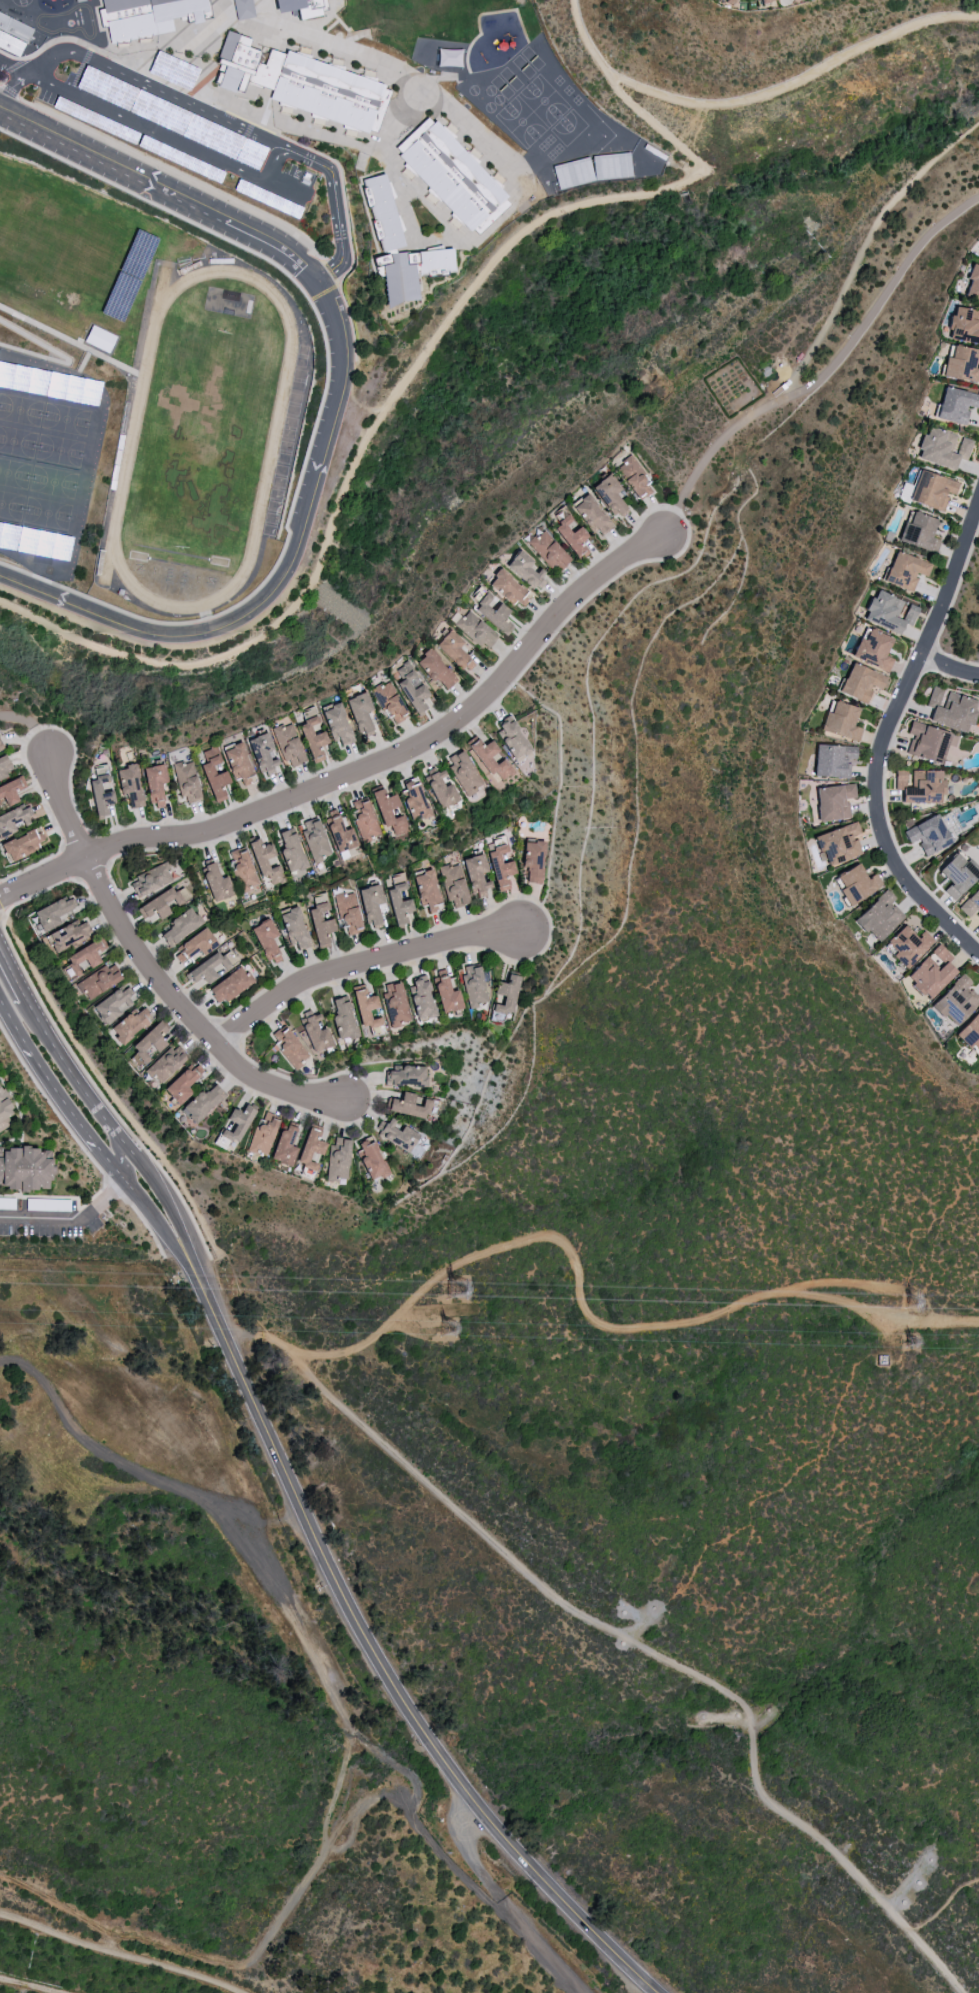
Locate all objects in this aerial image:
building: (730, 1)
building: (765, 1)
building: (302, 7)
building: (243, 9)
road: (260, 10)
building: (148, 16)
road: (322, 19)
road: (230, 21)
building: (15, 28)
road: (354, 34)
building: (10, 44)
road: (344, 47)
road: (192, 58)
road: (161, 59)
road: (15, 63)
road: (13, 66)
road: (798, 76)
road: (436, 77)
road: (3, 79)
building: (303, 83)
road: (10, 92)
park: (543, 100)
road: (212, 115)
park: (521, 121)
park: (567, 127)
road: (164, 129)
road: (270, 131)
parking lot: (182, 137)
road: (350, 143)
road: (571, 150)
road: (649, 154)
road: (681, 168)
building: (572, 173)
road: (174, 174)
building: (451, 175)
road: (283, 186)
road: (976, 196)
building: (382, 212)
road: (499, 219)
road: (864, 245)
building: (410, 272)
road: (330, 273)
road: (451, 275)
building: (973, 283)
road: (322, 292)
building: (964, 325)
building: (99, 338)
road: (71, 341)
road: (66, 358)
road: (833, 361)
road: (38, 363)
building: (961, 364)
road: (411, 367)
road: (350, 393)
road: (339, 404)
building: (956, 405)
road: (361, 408)
park: (20, 409)
road: (318, 410)
road: (738, 413)
park: (65, 419)
park: (203, 428)
track: (201, 440)
park: (17, 442)
building: (941, 449)
park: (59, 450)
park: (14, 474)
building: (634, 479)
park: (52, 482)
building: (932, 490)
building: (610, 496)
park: (11, 507)
park: (46, 514)
building: (592, 515)
road: (671, 522)
building: (919, 532)
building: (571, 536)
building: (549, 551)
building: (526, 570)
building: (905, 571)
building: (508, 588)
road: (948, 608)
building: (887, 612)
building: (494, 613)
building: (474, 629)
building: (873, 650)
building: (454, 651)
road: (949, 668)
building: (436, 670)
building: (860, 683)
building: (411, 687)
building: (390, 703)
building: (950, 709)
building: (362, 714)
building: (841, 721)
building: (338, 726)
road: (32, 728)
road: (419, 728)
road: (885, 734)
building: (313, 738)
building: (513, 740)
road: (444, 742)
building: (927, 742)
building: (288, 745)
building: (1, 747)
building: (263, 752)
building: (488, 759)
building: (833, 761)
building: (238, 764)
building: (4, 766)
road: (70, 769)
road: (363, 771)
building: (464, 773)
building: (214, 774)
building: (187, 782)
building: (130, 784)
building: (155, 784)
building: (920, 786)
road: (36, 787)
building: (441, 789)
building: (101, 790)
building: (10, 791)
building: (415, 799)
building: (833, 802)
building: (389, 812)
building: (13, 819)
building: (364, 819)
building: (340, 835)
building: (928, 835)
road: (76, 840)
building: (315, 840)
building: (838, 843)
building: (21, 845)
road: (102, 847)
building: (290, 850)
building: (533, 861)
road: (68, 862)
building: (266, 862)
road: (31, 865)
building: (500, 867)
road: (93, 868)
building: (243, 869)
building: (476, 874)
building: (957, 875)
building: (151, 879)
building: (216, 883)
building: (856, 884)
building: (453, 885)
building: (427, 891)
road: (38, 893)
building: (398, 898)
building: (159, 904)
building: (371, 904)
building: (971, 904)
road: (2, 911)
building: (349, 913)
building: (53, 914)
road: (2, 915)
building: (879, 917)
building: (321, 919)
building: (180, 926)
building: (295, 929)
building: (66, 935)
building: (266, 941)
building: (194, 945)
building: (908, 946)
building: (84, 957)
road: (394, 966)
building: (207, 969)
road: (361, 969)
road: (153, 973)
building: (931, 973)
building: (98, 981)
building: (230, 985)
building: (473, 986)
building: (446, 995)
building: (505, 997)
building: (421, 998)
building: (956, 1002)
building: (395, 1004)
building: (113, 1005)
building: (365, 1007)
building: (342, 1018)
building: (129, 1025)
building: (315, 1033)
building: (970, 1033)
road: (227, 1035)
building: (147, 1044)
building: (289, 1047)
building: (165, 1064)
building: (406, 1076)
building: (183, 1083)
road: (109, 1091)
road: (97, 1092)
building: (202, 1103)
building: (409, 1106)
building: (3, 1109)
building: (235, 1127)
building: (263, 1134)
building: (396, 1135)
road: (79, 1145)
building: (284, 1146)
building: (310, 1149)
building: (370, 1159)
building: (338, 1160)
building: (25, 1168)
road: (79, 1225)
road: (215, 1258)
power tower: (461, 1295)
power tower: (915, 1307)
road: (594, 1320)
power tower: (449, 1336)
power tower: (905, 1343)
road: (138, 1470)
road: (301, 1499)
road: (626, 1637)
road: (504, 1903)
road: (944, 1904)
landfill: (134, 1948)

